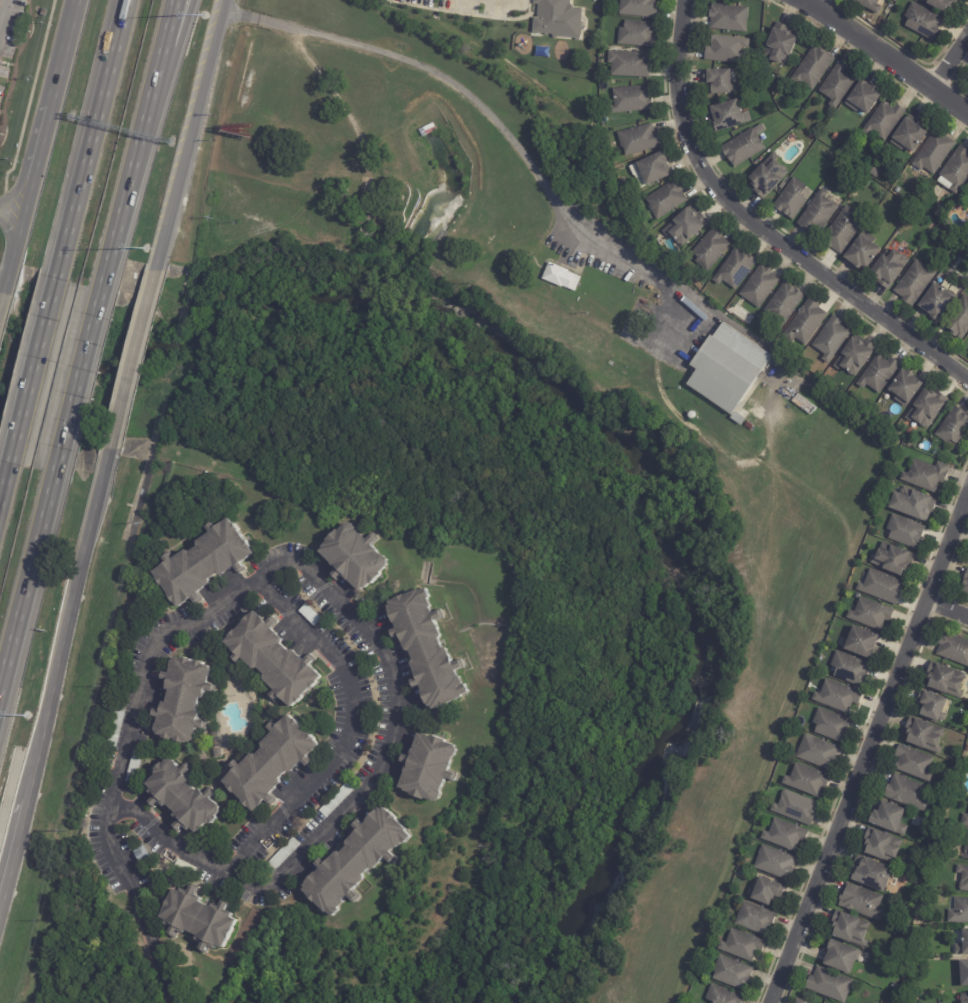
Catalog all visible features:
building: (940, 4)
building: (868, 5)
building: (637, 7)
building: (728, 17)
building: (557, 18)
road: (118, 20)
road: (120, 20)
building: (922, 22)
building: (636, 33)
building: (781, 43)
building: (725, 49)
road: (892, 50)
road: (65, 54)
road: (955, 59)
building: (629, 62)
building: (812, 67)
building: (718, 80)
building: (837, 83)
road: (150, 87)
road: (160, 87)
road: (334, 93)
building: (863, 97)
building: (631, 98)
building: (728, 115)
building: (885, 120)
road: (505, 128)
building: (427, 130)
building: (910, 134)
road: (195, 137)
building: (637, 138)
building: (743, 145)
building: (933, 151)
road: (42, 157)
road: (83, 164)
building: (654, 168)
building: (955, 170)
building: (875, 172)
building: (767, 177)
building: (967, 187)
building: (790, 198)
building: (666, 199)
road: (14, 207)
building: (817, 212)
building: (686, 225)
road: (114, 227)
road: (762, 227)
building: (842, 229)
building: (709, 249)
road: (17, 251)
building: (861, 251)
building: (959, 260)
building: (889, 266)
building: (735, 268)
building: (559, 276)
building: (914, 282)
building: (759, 286)
building: (937, 302)
building: (782, 304)
road: (3, 307)
building: (958, 318)
building: (804, 323)
building: (831, 338)
building: (854, 354)
road: (134, 359)
building: (727, 367)
road: (78, 369)
building: (877, 372)
road: (29, 376)
building: (904, 386)
building: (926, 407)
building: (736, 418)
building: (748, 426)
building: (953, 426)
building: (925, 474)
road: (3, 477)
building: (891, 482)
building: (912, 503)
building: (904, 531)
building: (353, 558)
building: (892, 559)
building: (202, 564)
road: (28, 567)
building: (965, 584)
building: (881, 587)
road: (945, 612)
building: (870, 614)
building: (308, 615)
building: (861, 643)
building: (426, 648)
building: (953, 650)
building: (211, 652)
road: (385, 658)
building: (273, 659)
building: (849, 669)
building: (944, 680)
road: (61, 686)
building: (836, 696)
building: (181, 700)
building: (932, 707)
building: (830, 725)
building: (115, 726)
road: (348, 731)
building: (924, 736)
road: (867, 750)
building: (816, 752)
building: (215, 753)
building: (913, 763)
building: (270, 764)
building: (133, 767)
building: (428, 767)
building: (806, 780)
building: (907, 793)
building: (182, 799)
building: (336, 799)
building: (795, 808)
building: (887, 818)
building: (964, 821)
building: (935, 824)
building: (784, 835)
building: (966, 843)
building: (882, 847)
building: (140, 856)
building: (280, 857)
building: (356, 861)
building: (774, 863)
building: (183, 868)
building: (869, 873)
building: (916, 878)
building: (963, 878)
building: (765, 891)
building: (861, 902)
road: (140, 903)
building: (905, 909)
building: (959, 911)
building: (198, 919)
building: (754, 919)
building: (850, 929)
building: (962, 944)
building: (740, 945)
building: (839, 957)
building: (731, 973)
building: (963, 974)
building: (699, 975)
building: (907, 976)
building: (829, 985)
building: (723, 996)
building: (963, 997)
building: (799, 1001)

